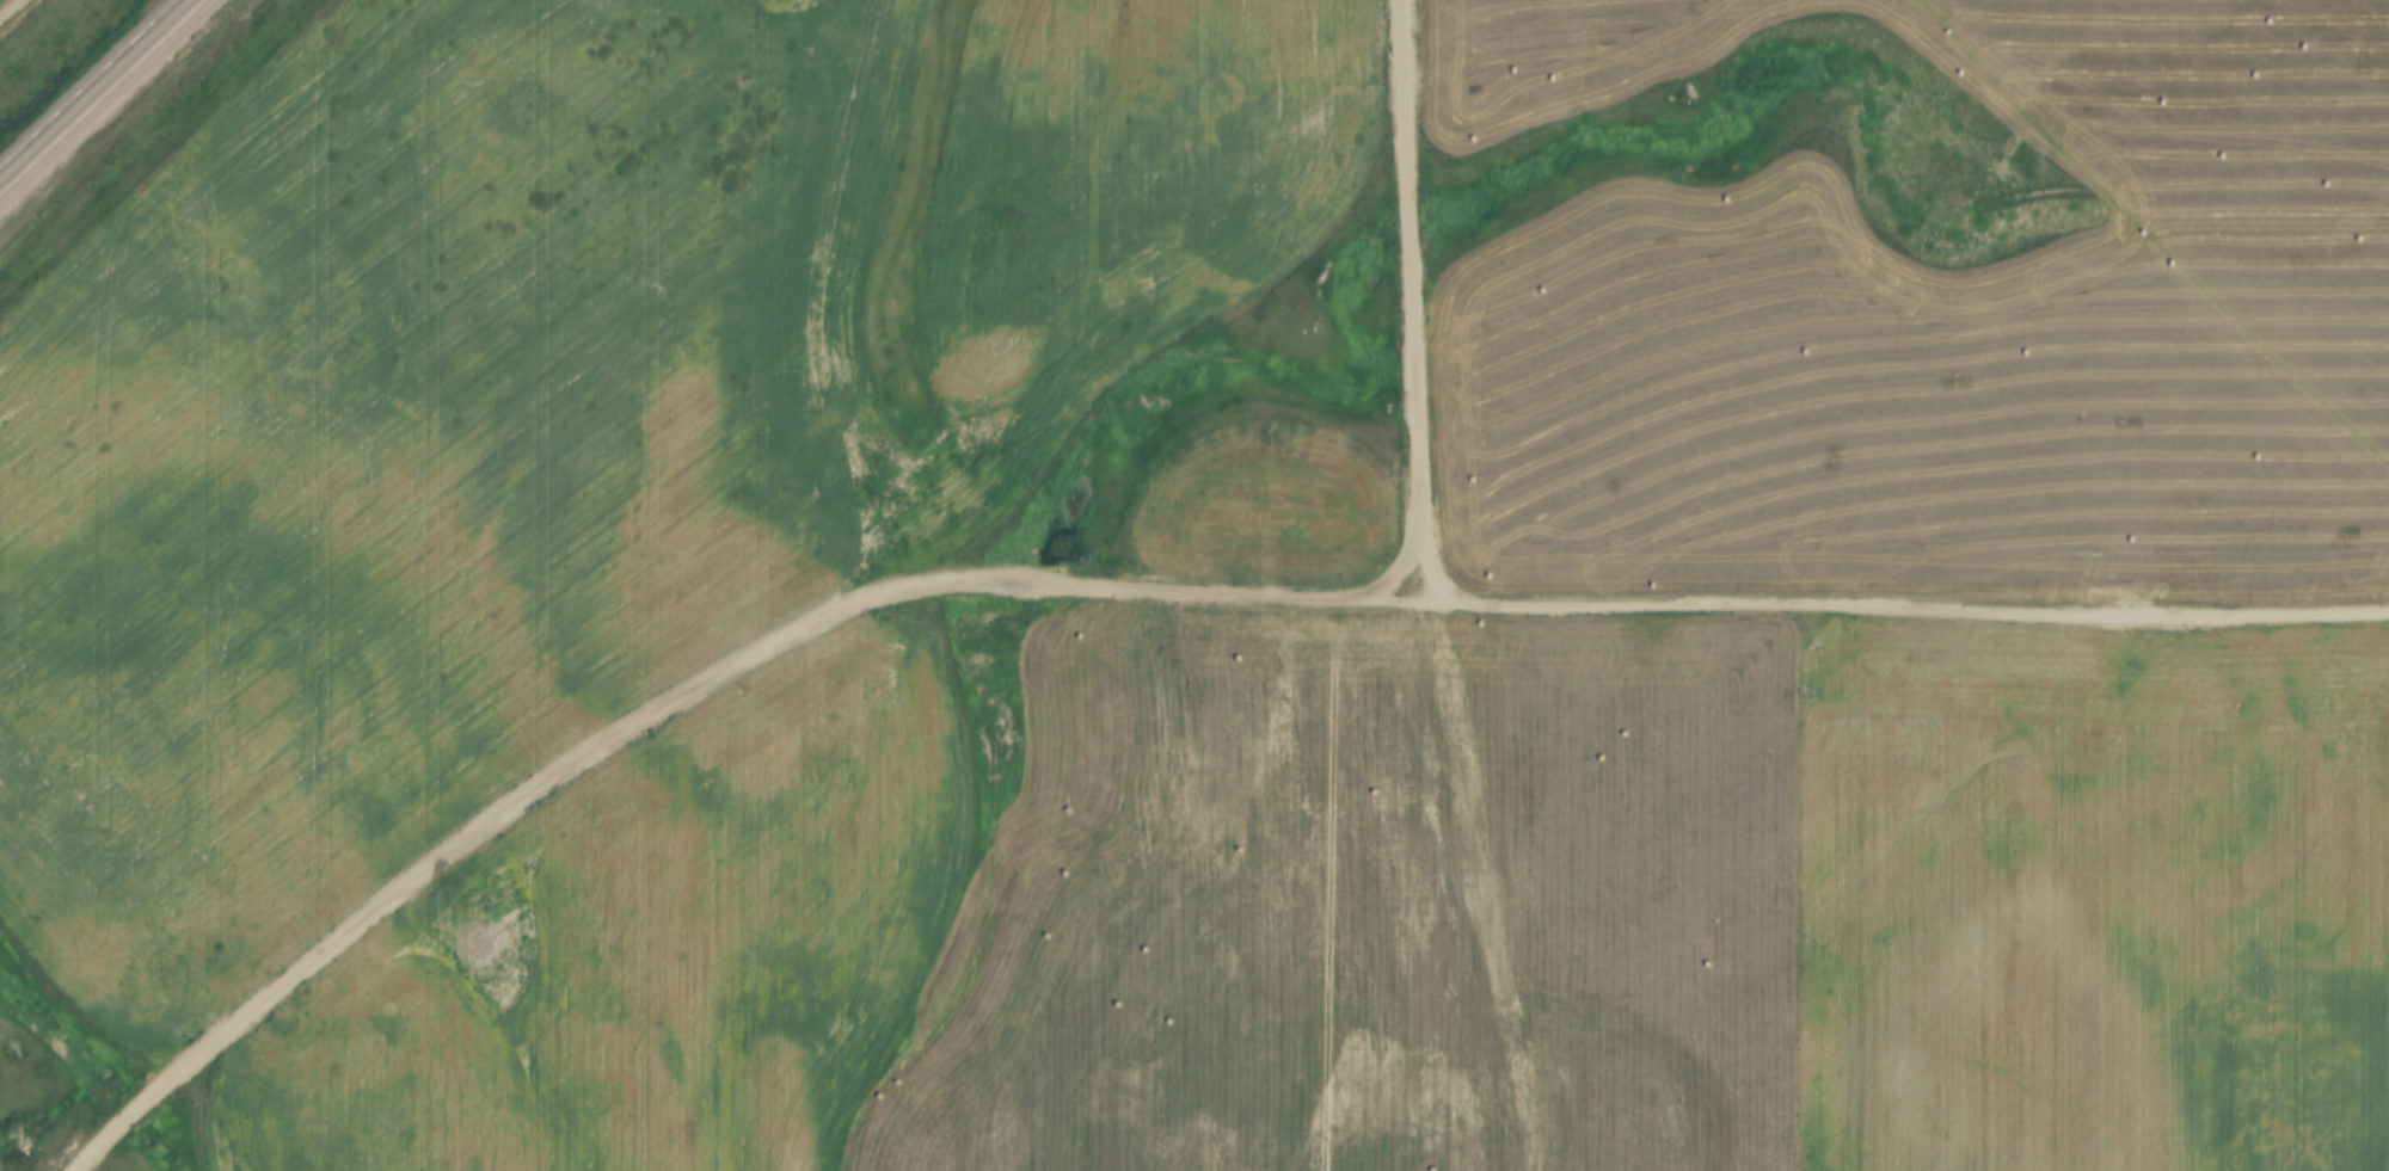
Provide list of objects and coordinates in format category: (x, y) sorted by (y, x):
road: (11, 11)
railway: (148, 29)
railway: (167, 35)
railway: (59, 115)
railway: (66, 132)
road: (1411, 300)
road: (1143, 583)
road: (1899, 610)
road: (456, 852)

